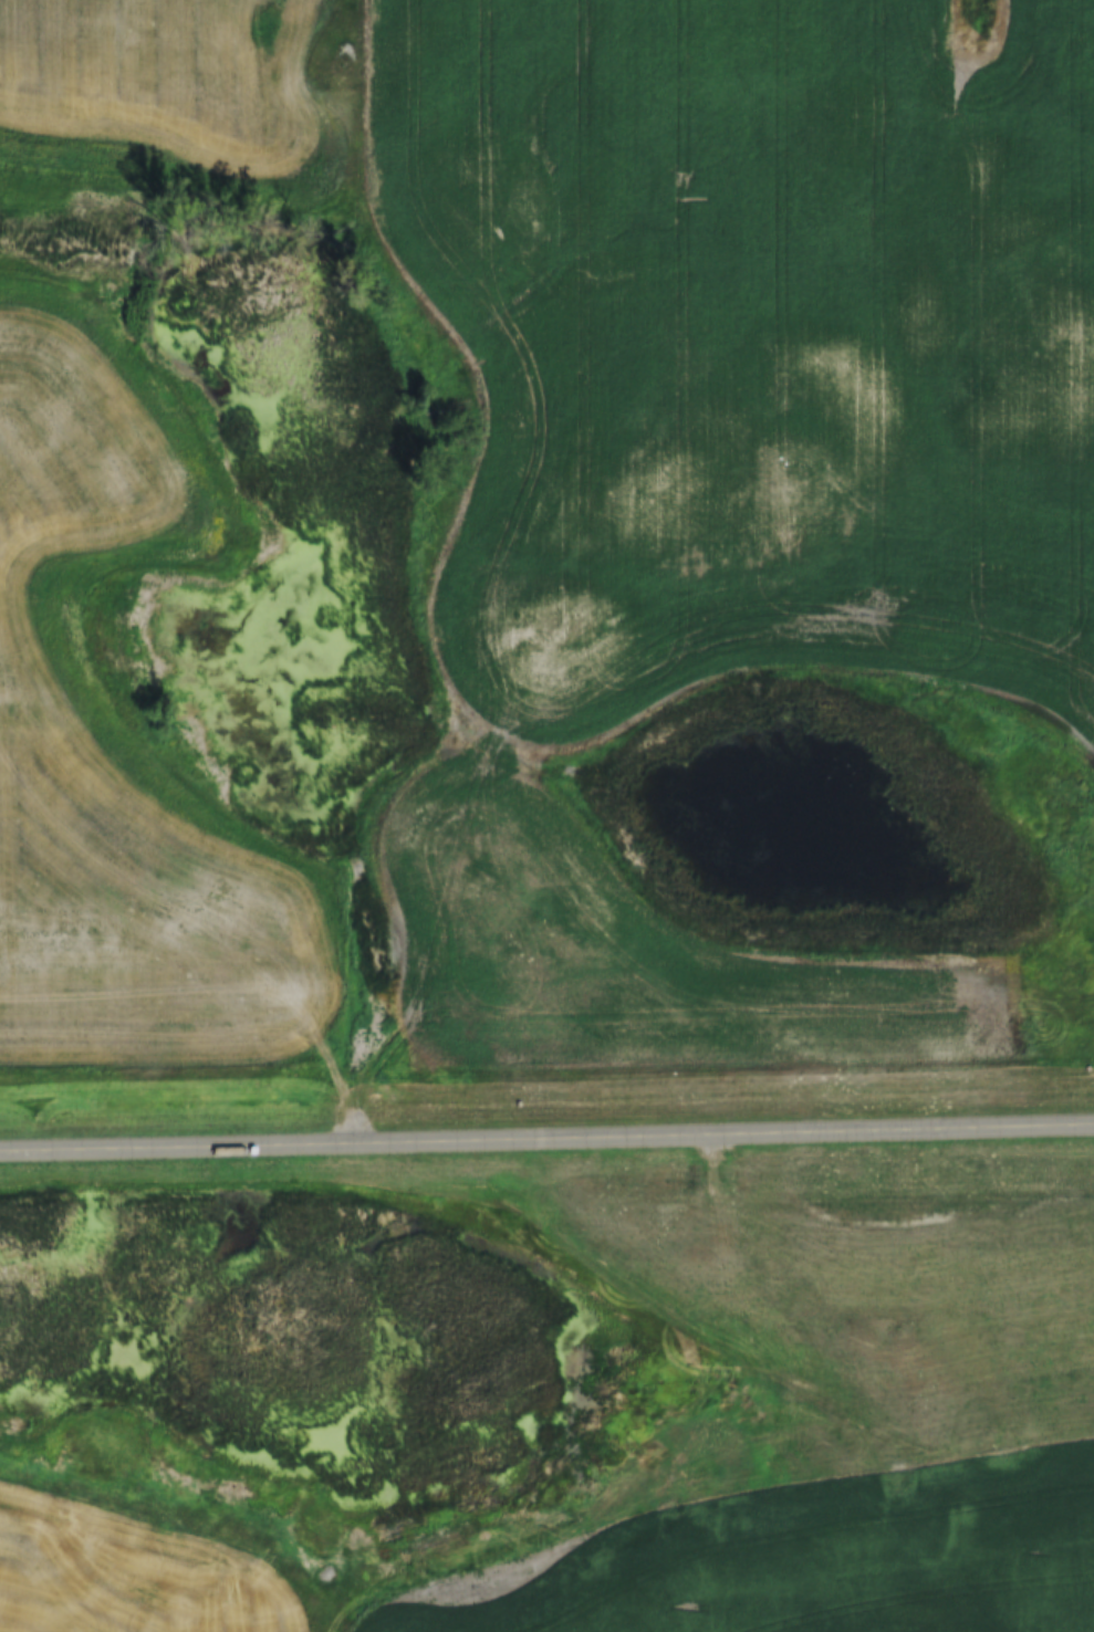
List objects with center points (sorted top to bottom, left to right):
road: (546, 1139)

